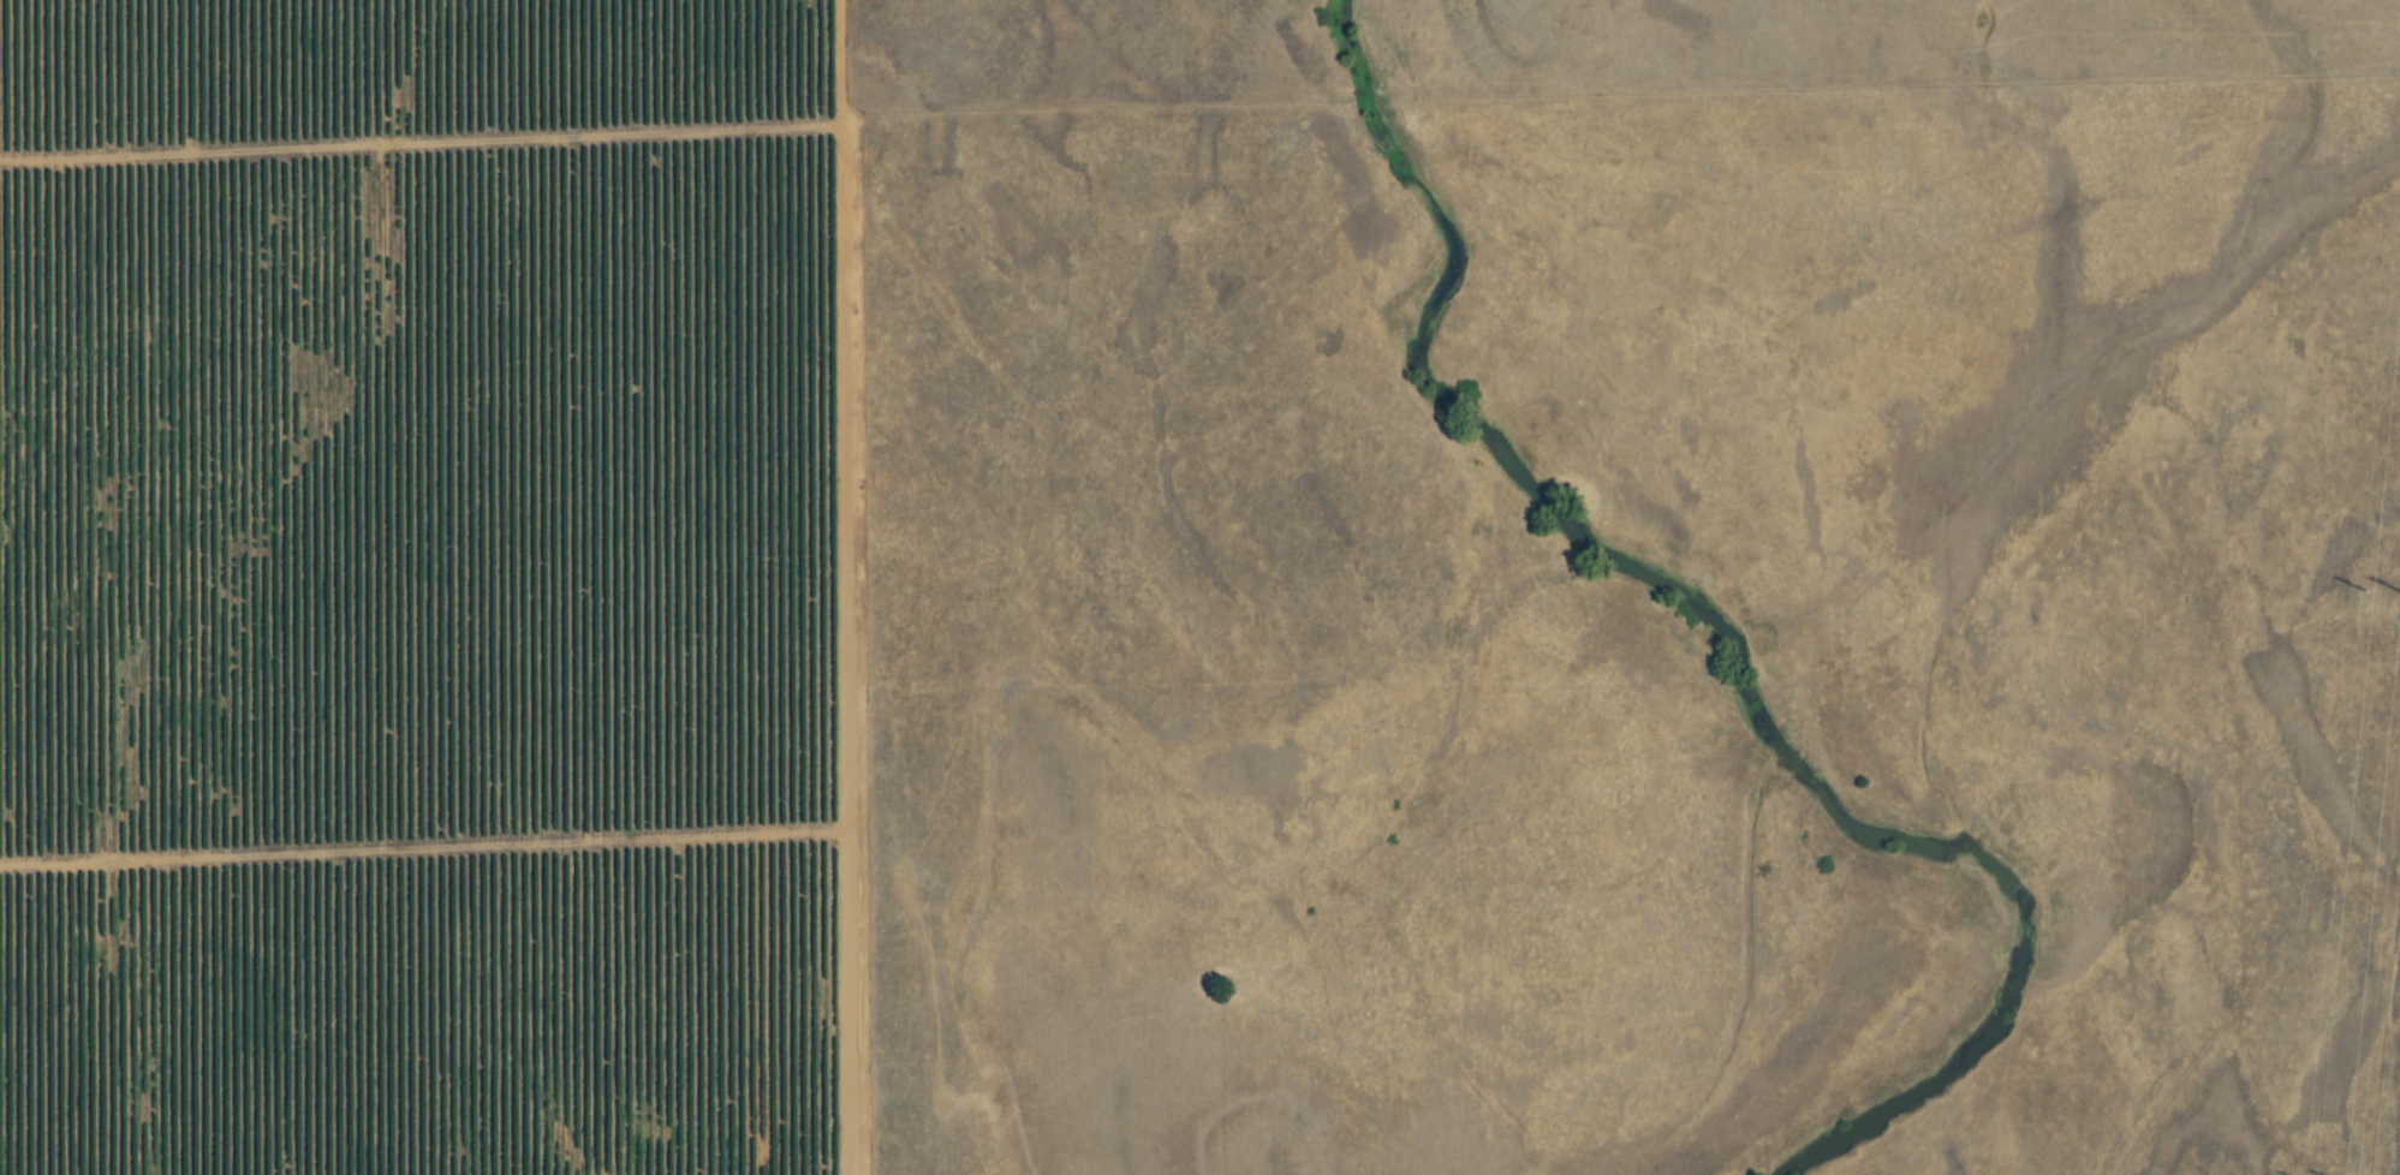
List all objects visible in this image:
crop: (424, 587)
power tower: (2365, 608)

